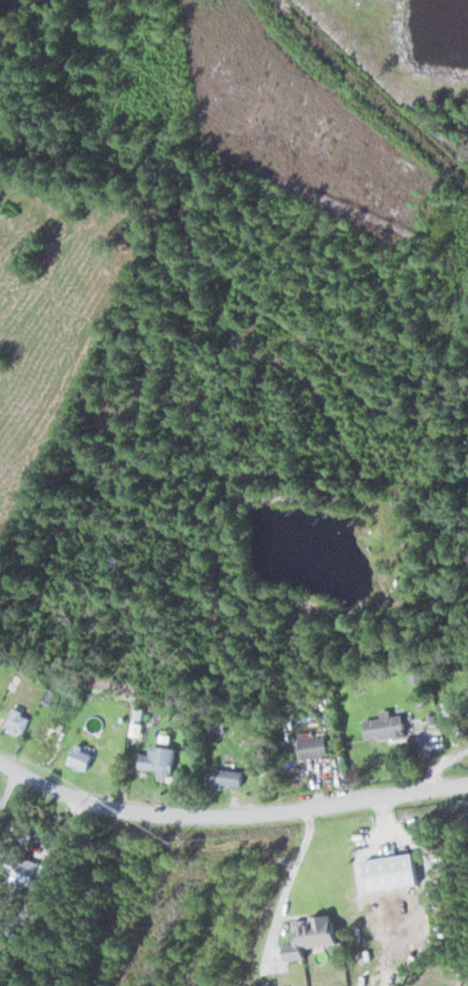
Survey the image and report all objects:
building: (2, 358)
building: (2, 686)
building: (19, 723)
building: (387, 727)
building: (53, 741)
building: (315, 747)
building: (82, 758)
building: (160, 761)
building: (229, 778)
road: (10, 792)
road: (229, 816)
building: (393, 873)
building: (29, 874)
building: (313, 937)

